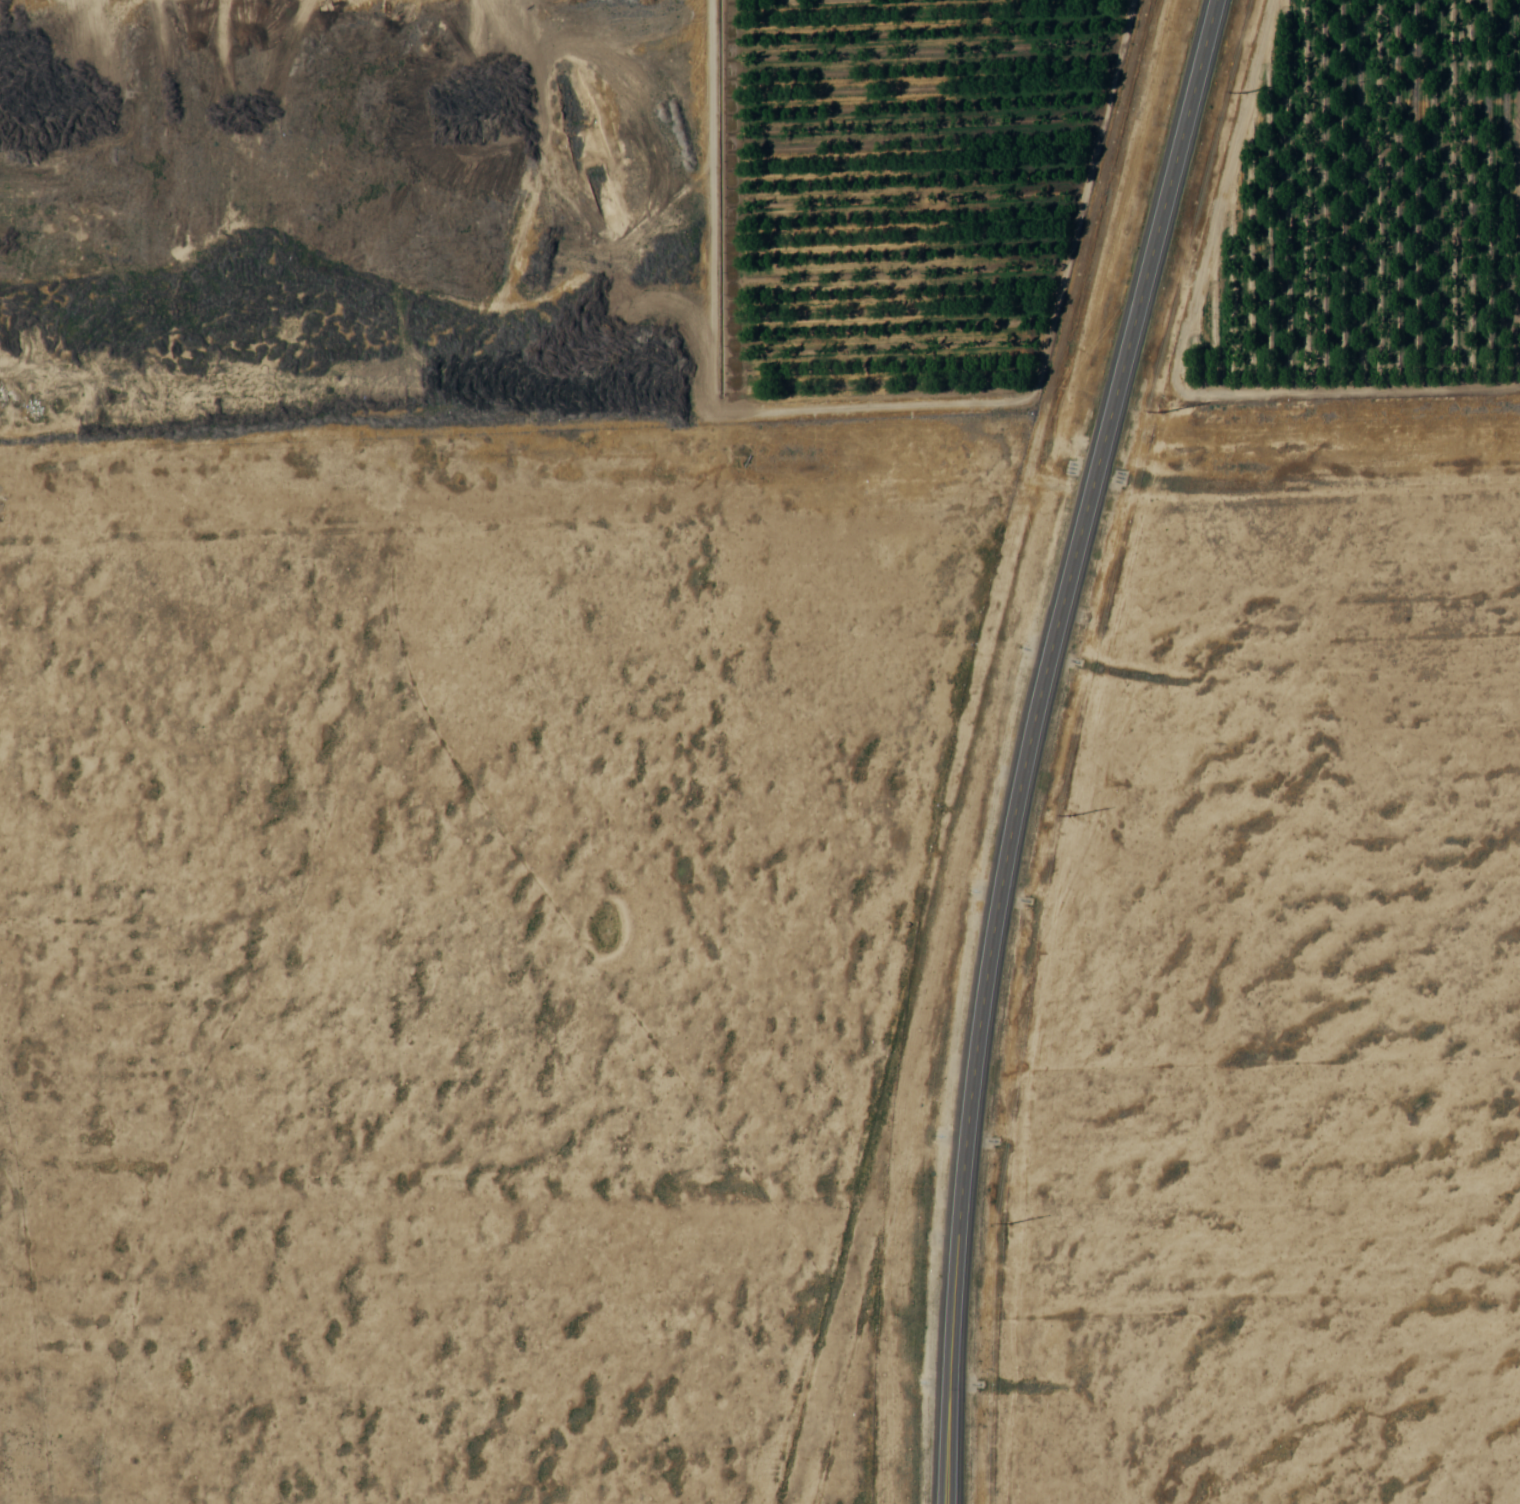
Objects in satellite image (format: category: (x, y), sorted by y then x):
road: (1151, 249)
road: (545, 493)
road: (1304, 495)
road: (982, 997)

